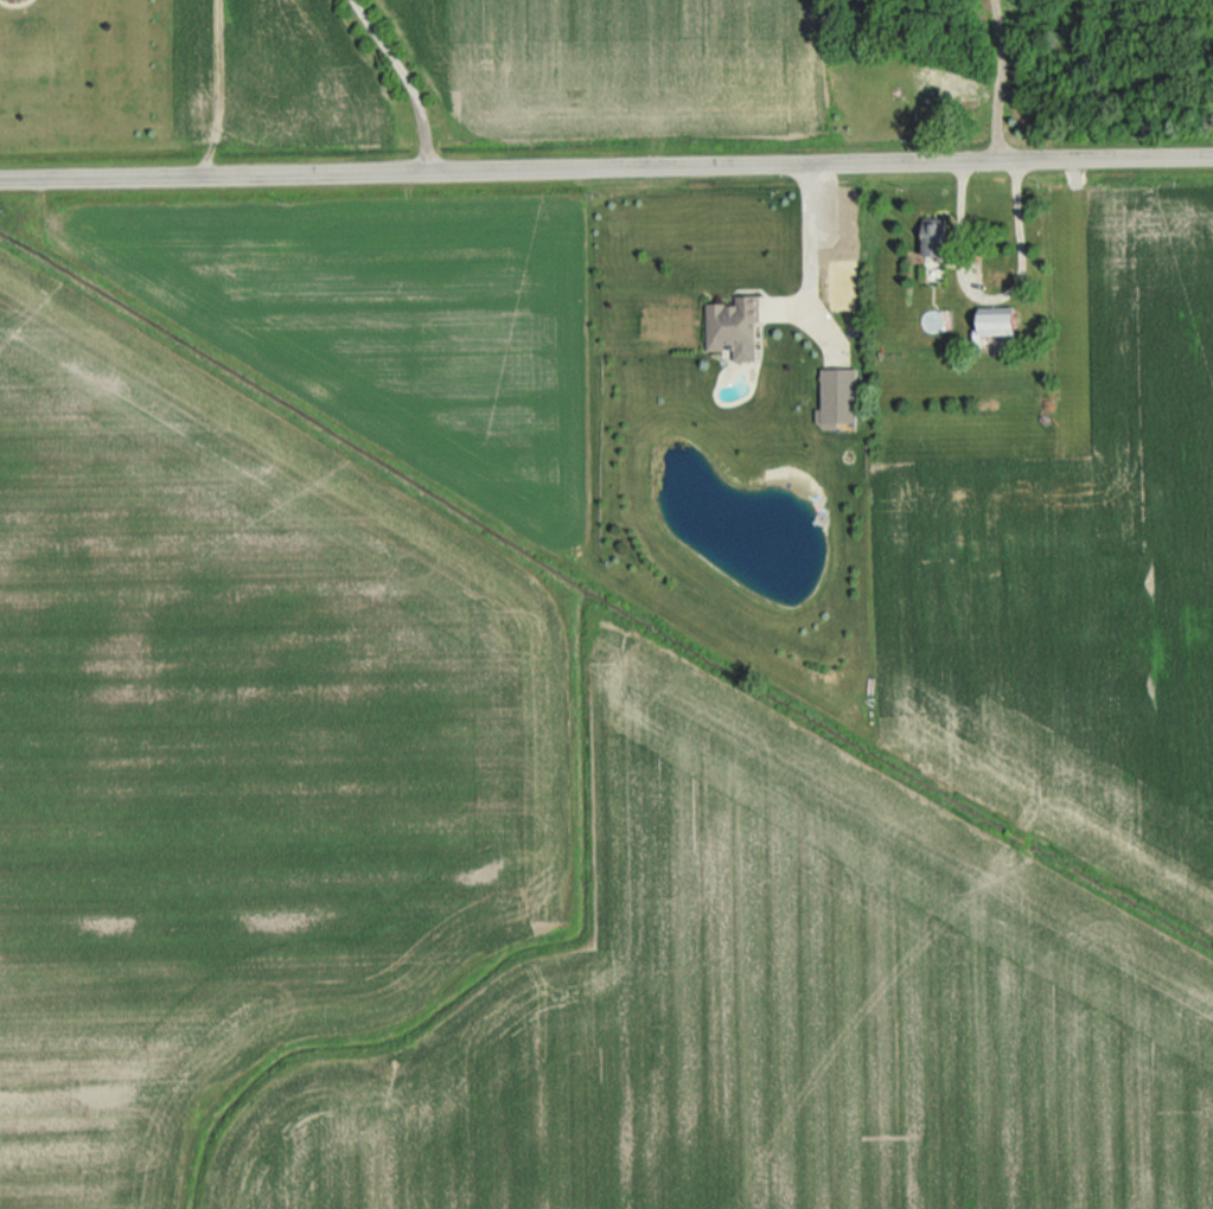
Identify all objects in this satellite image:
road: (409, 77)
road: (1000, 78)
road: (606, 166)
road: (809, 235)
building: (936, 242)
building: (1001, 324)
building: (734, 328)
building: (838, 397)

